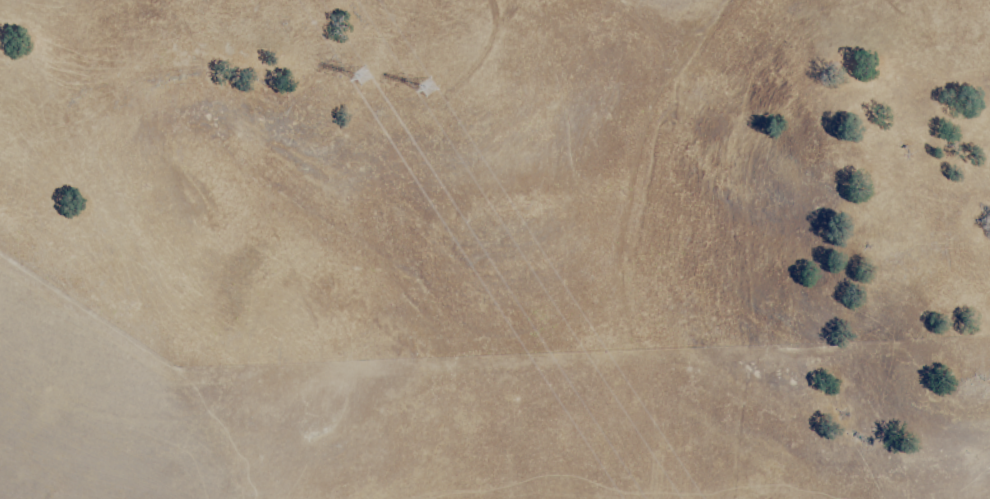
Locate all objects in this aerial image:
power tower: (422, 73)
power tower: (371, 78)
park: (501, 176)

